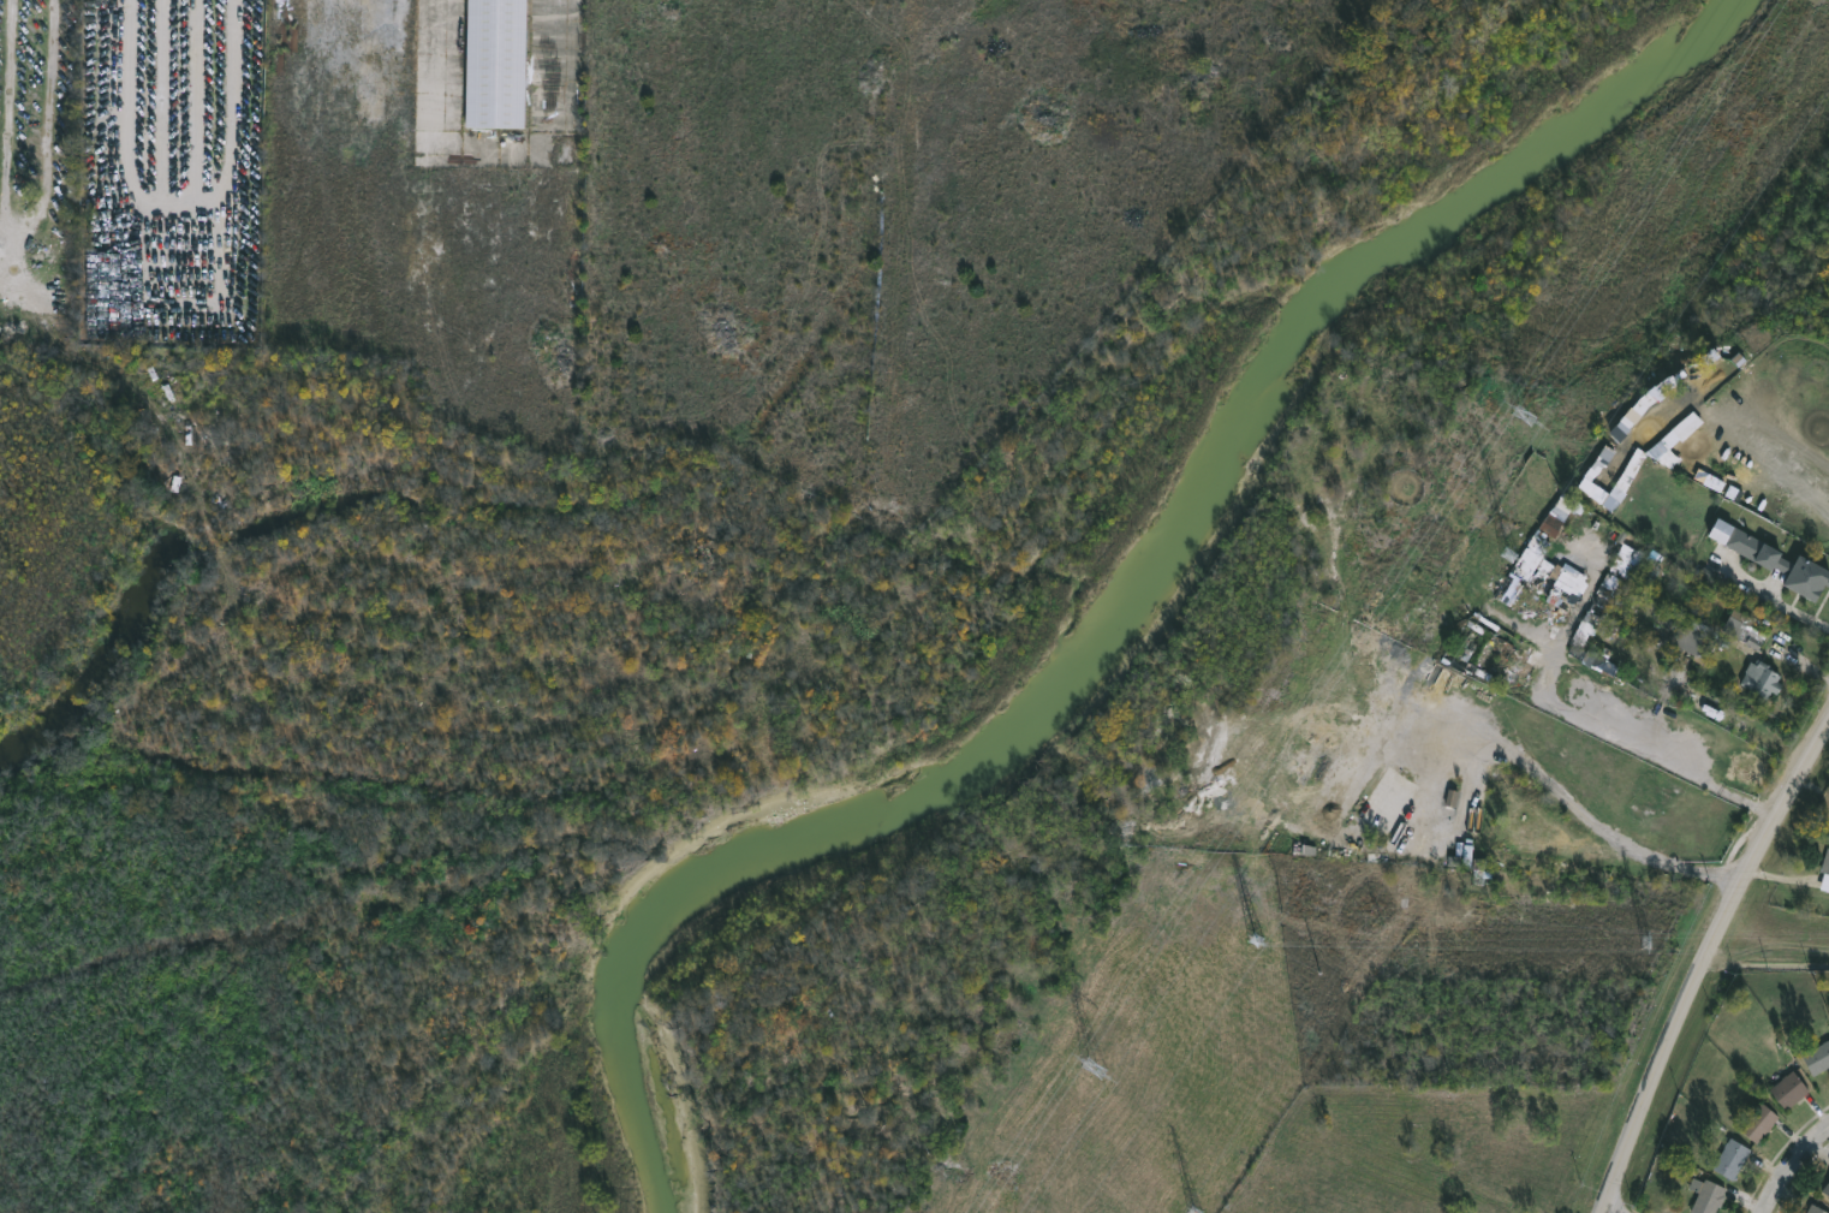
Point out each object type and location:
building: (499, 64)
power tower: (1530, 411)
power tower: (1511, 555)
building: (1636, 564)
building: (1780, 564)
building: (1544, 569)
building: (1602, 595)
road: (1586, 597)
road: (1770, 600)
building: (1751, 629)
road: (1527, 634)
building: (1697, 637)
building: (1487, 647)
building: (1596, 660)
building: (1521, 667)
building: (1759, 679)
road: (1562, 709)
road: (1595, 823)
building: (1824, 872)
power tower: (1258, 941)
power tower: (1650, 941)
road: (1703, 965)
road: (1767, 965)
building: (1817, 1058)
power tower: (1095, 1068)
building: (1787, 1090)
building: (1758, 1123)
building: (1730, 1159)
road: (1794, 1173)
building: (1825, 1189)
building: (1708, 1197)
building: (1816, 1209)
power tower: (1198, 1212)

